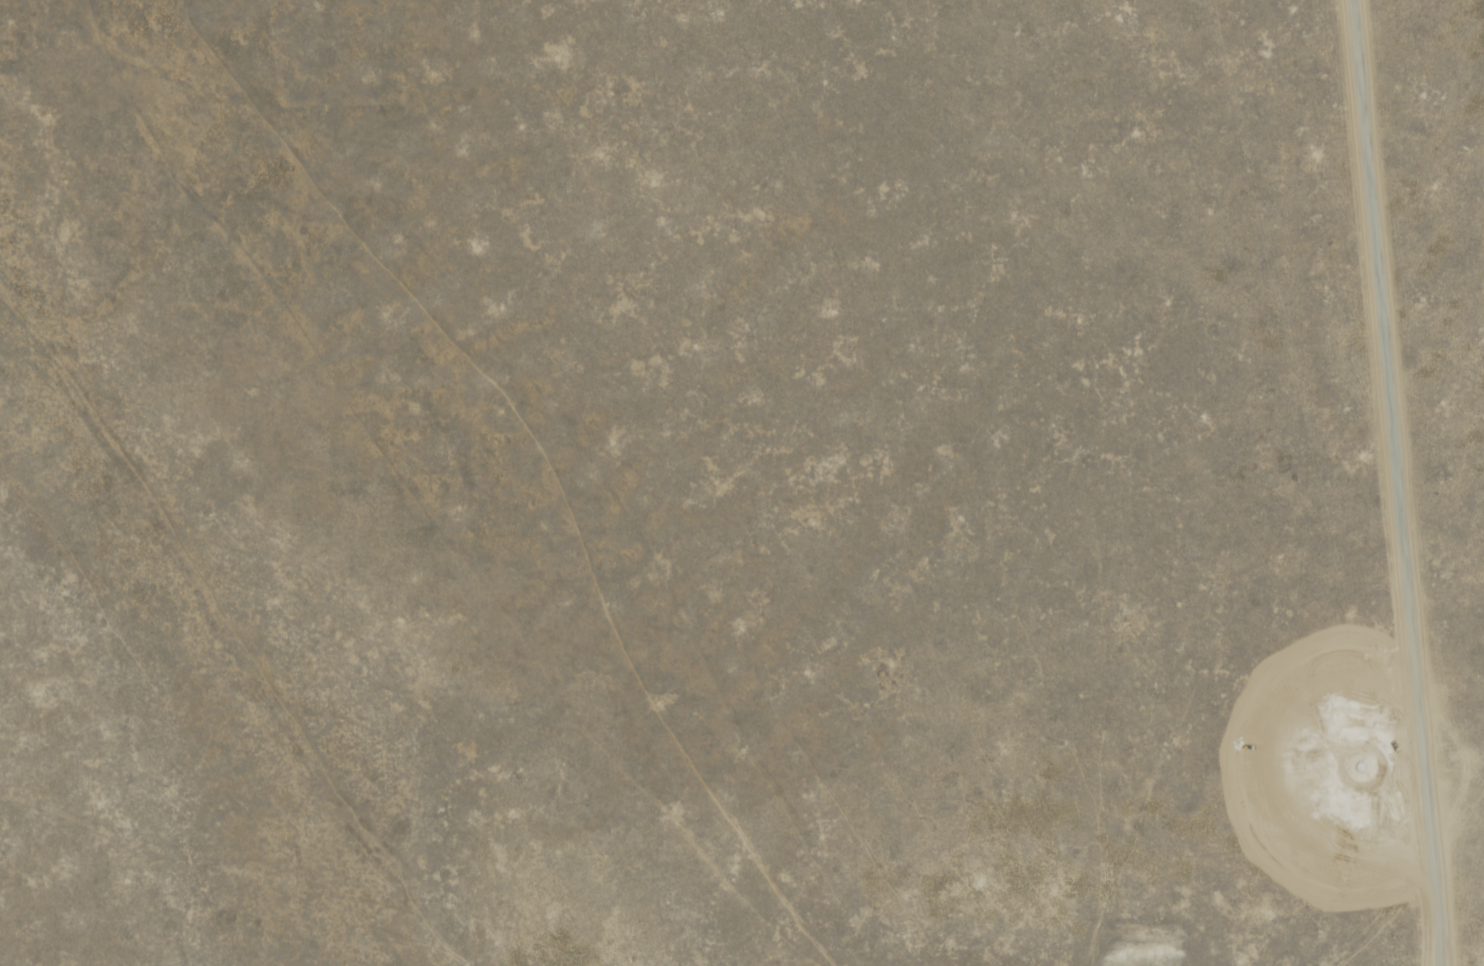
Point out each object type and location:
wind turbine: (1347, 765)

